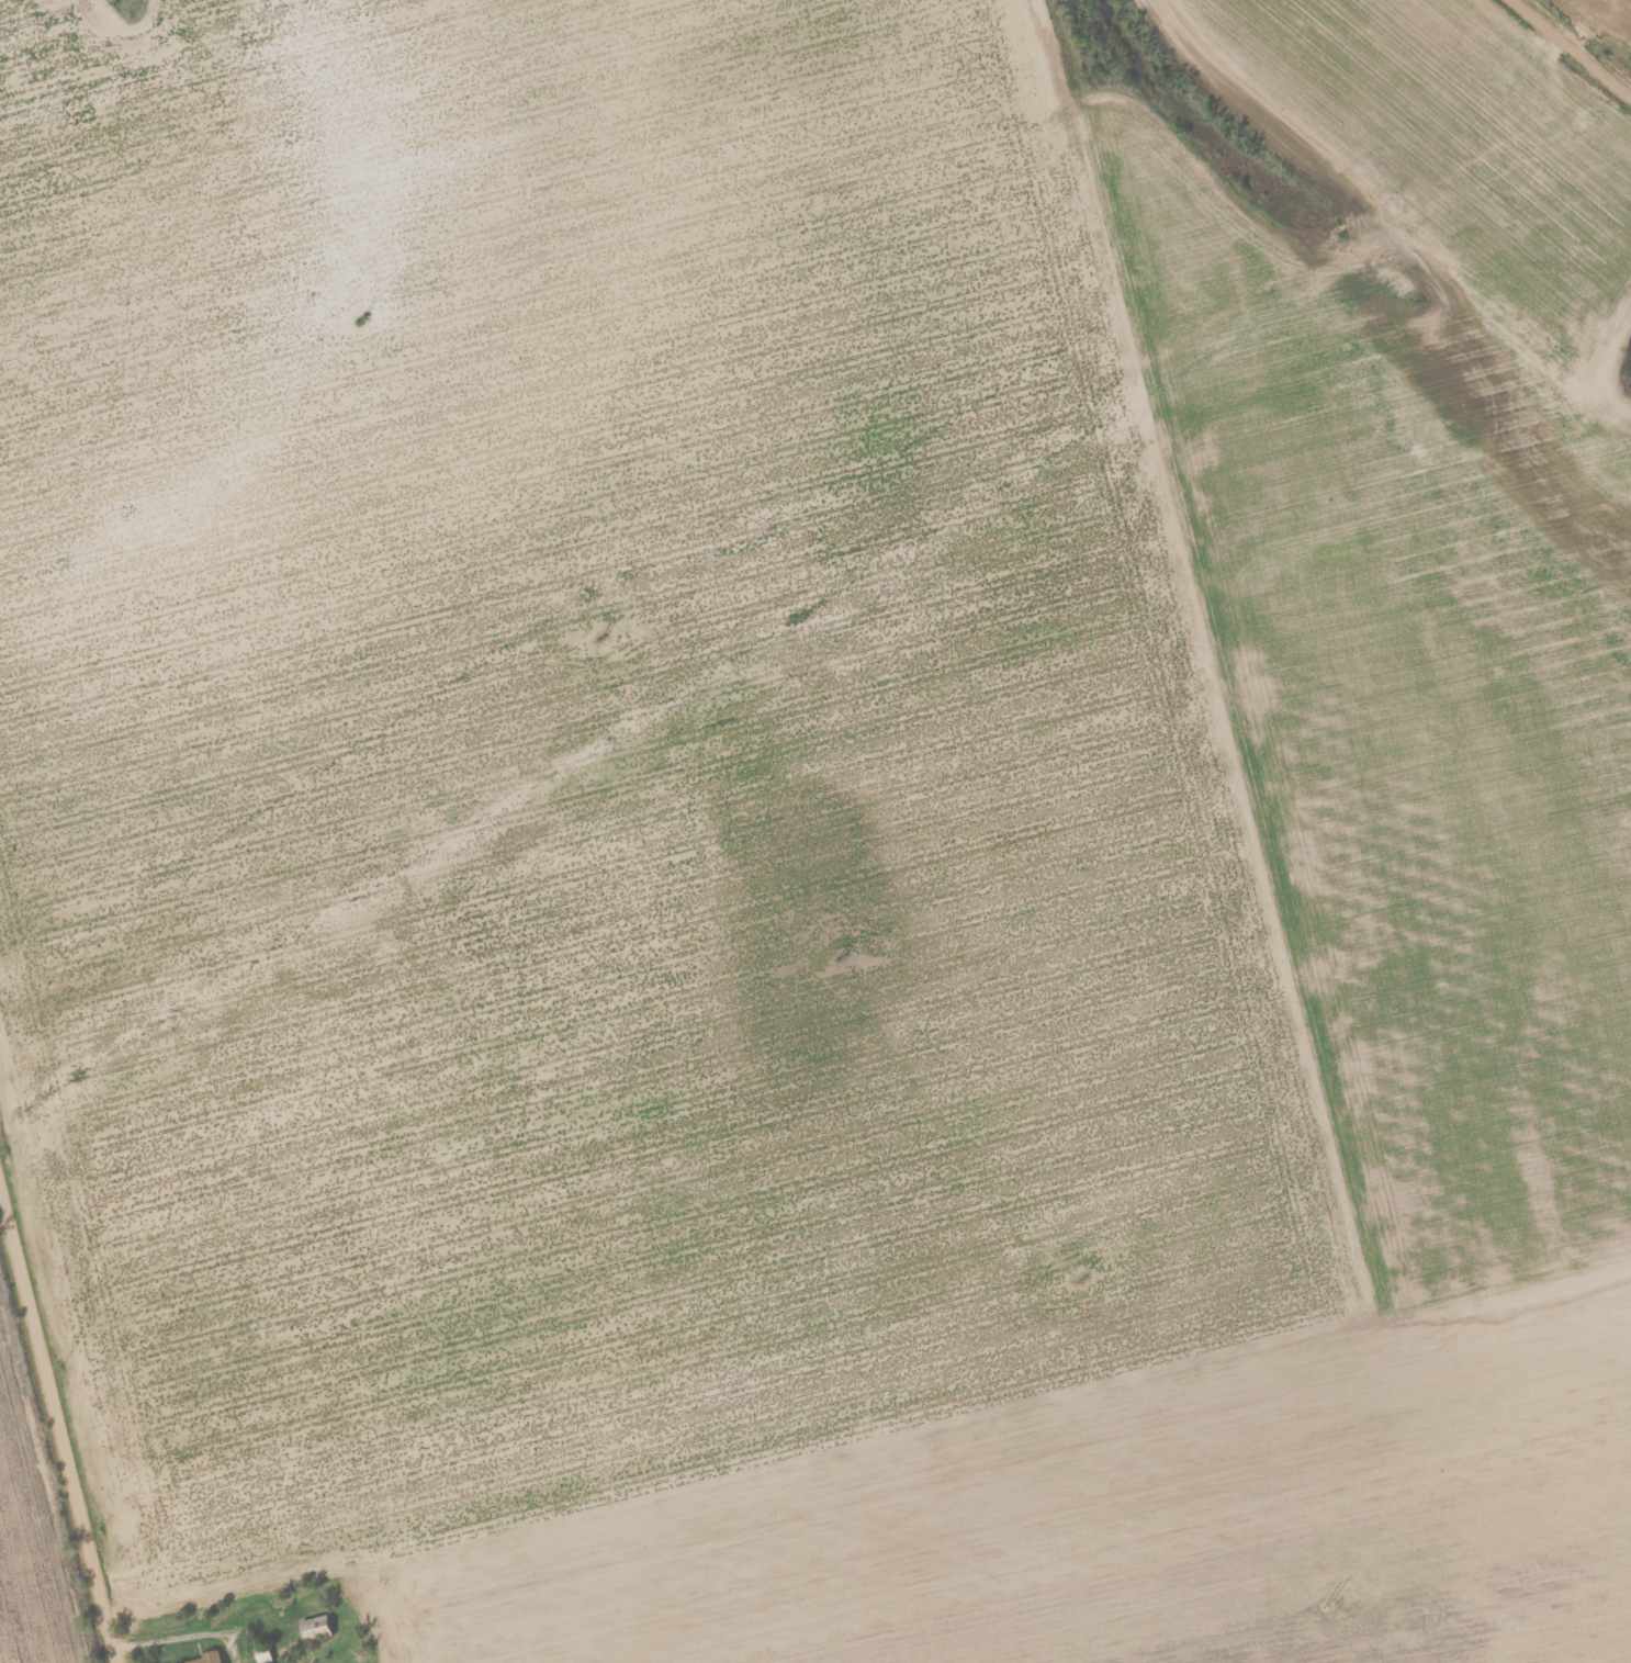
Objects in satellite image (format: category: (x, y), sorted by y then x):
railway: (1604, 21)
road: (1578, 42)
power tower: (361, 318)
power tower: (601, 637)
power tower: (842, 957)
power tower: (1081, 1277)
road: (54, 1458)
road: (350, 1589)
power tower: (1327, 1603)
building: (312, 1625)

